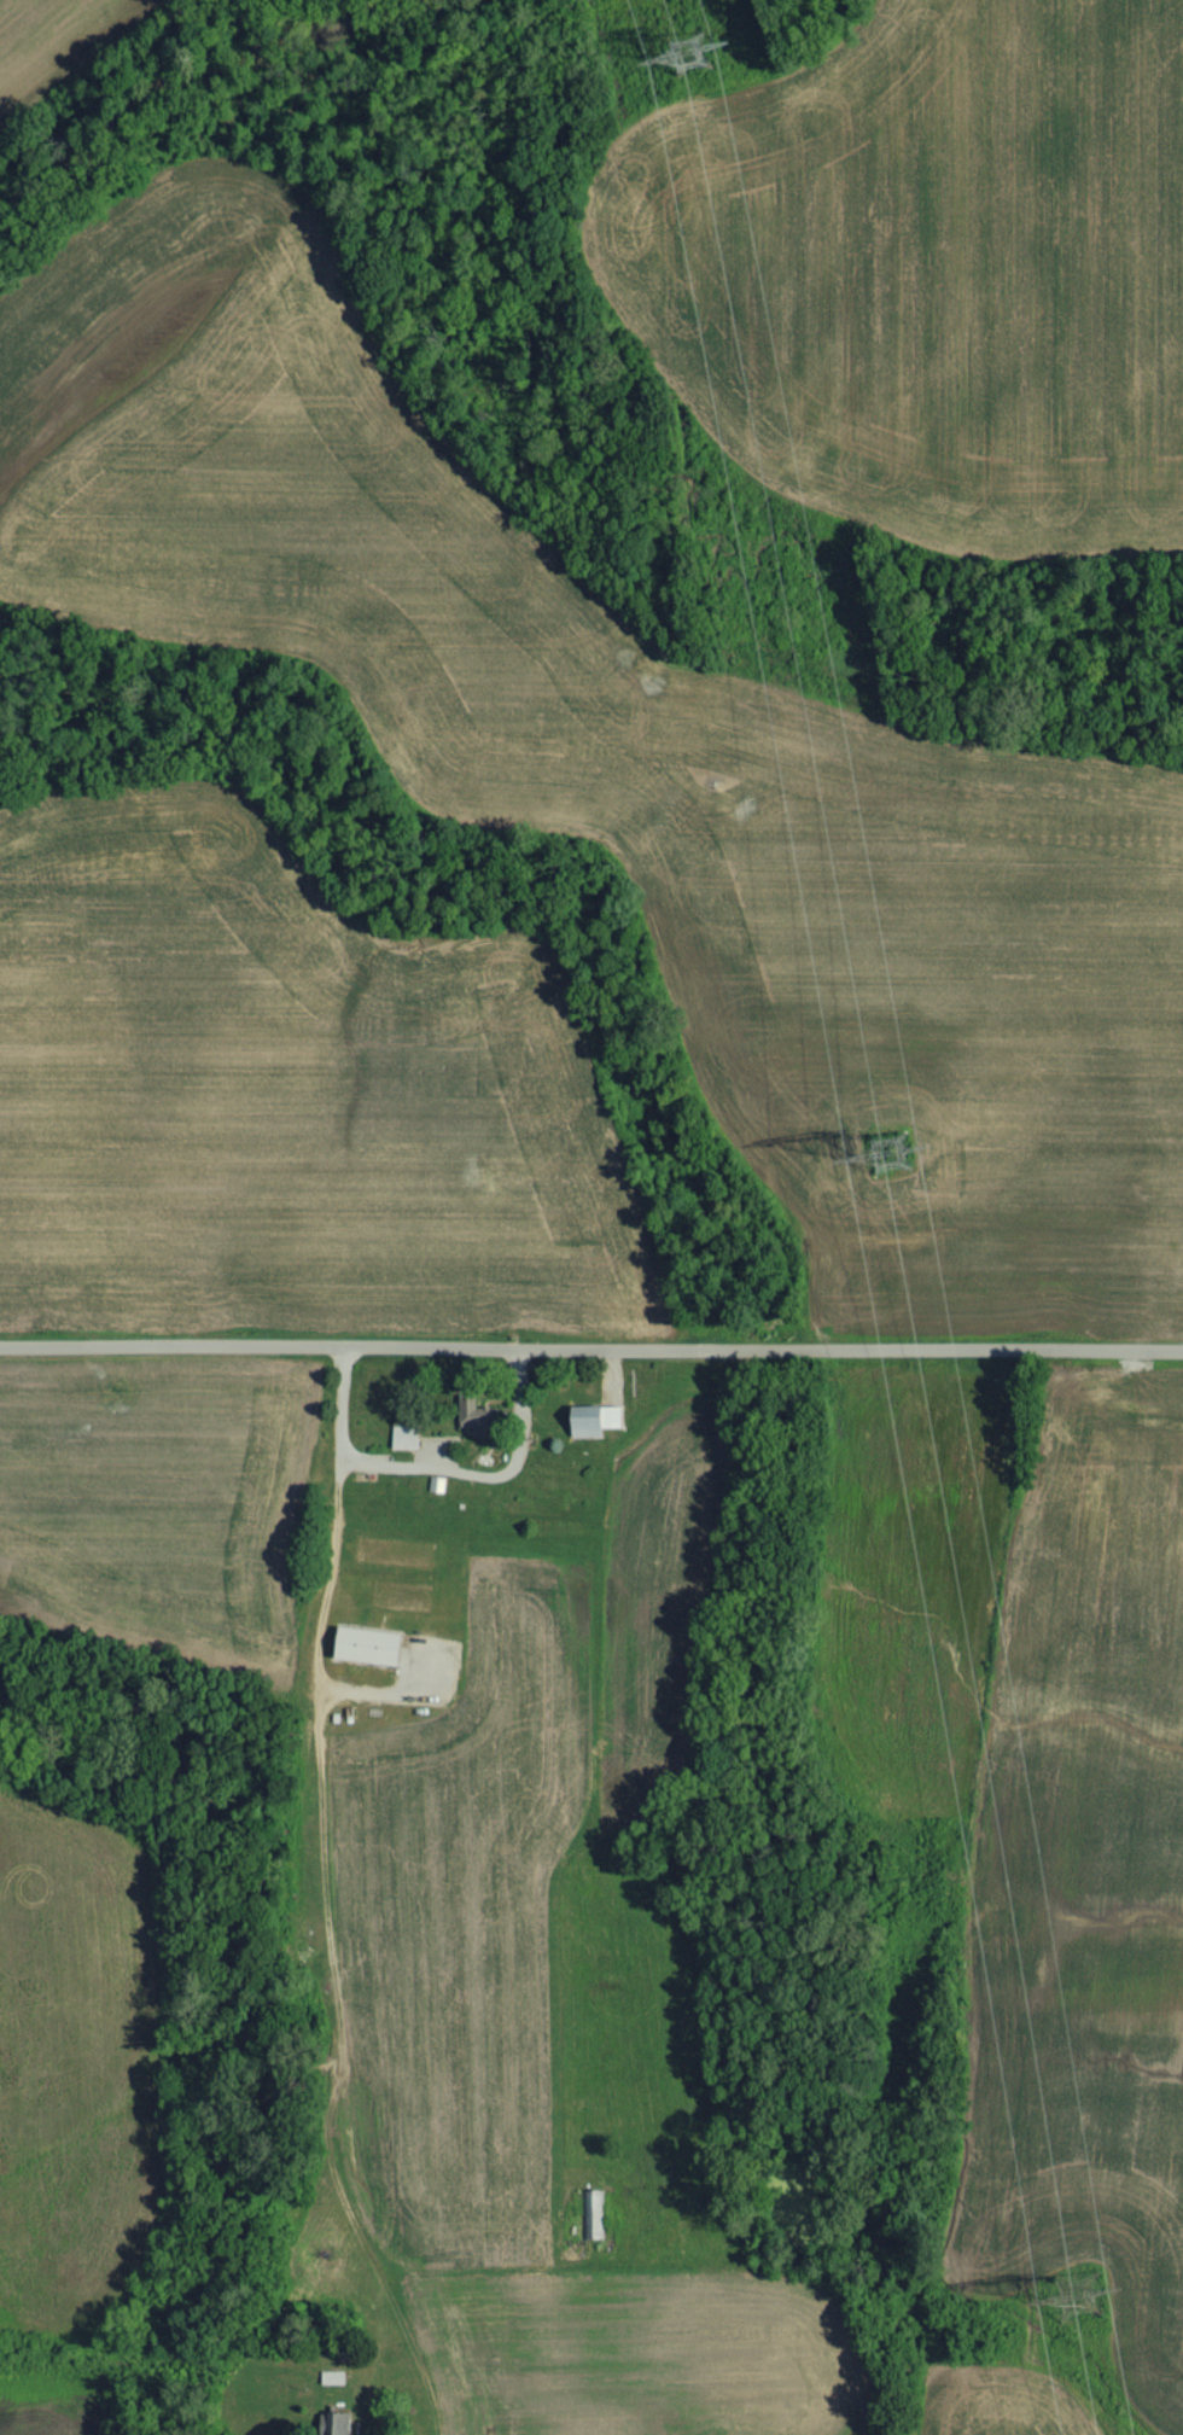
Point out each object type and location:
power tower: (697, 65)
power tower: (897, 1163)
road: (590, 1353)
building: (479, 1429)
building: (598, 1432)
building: (407, 1449)
road: (438, 1472)
building: (373, 1658)
building: (591, 2227)
power tower: (1090, 2307)
building: (334, 2390)
building: (337, 2429)

